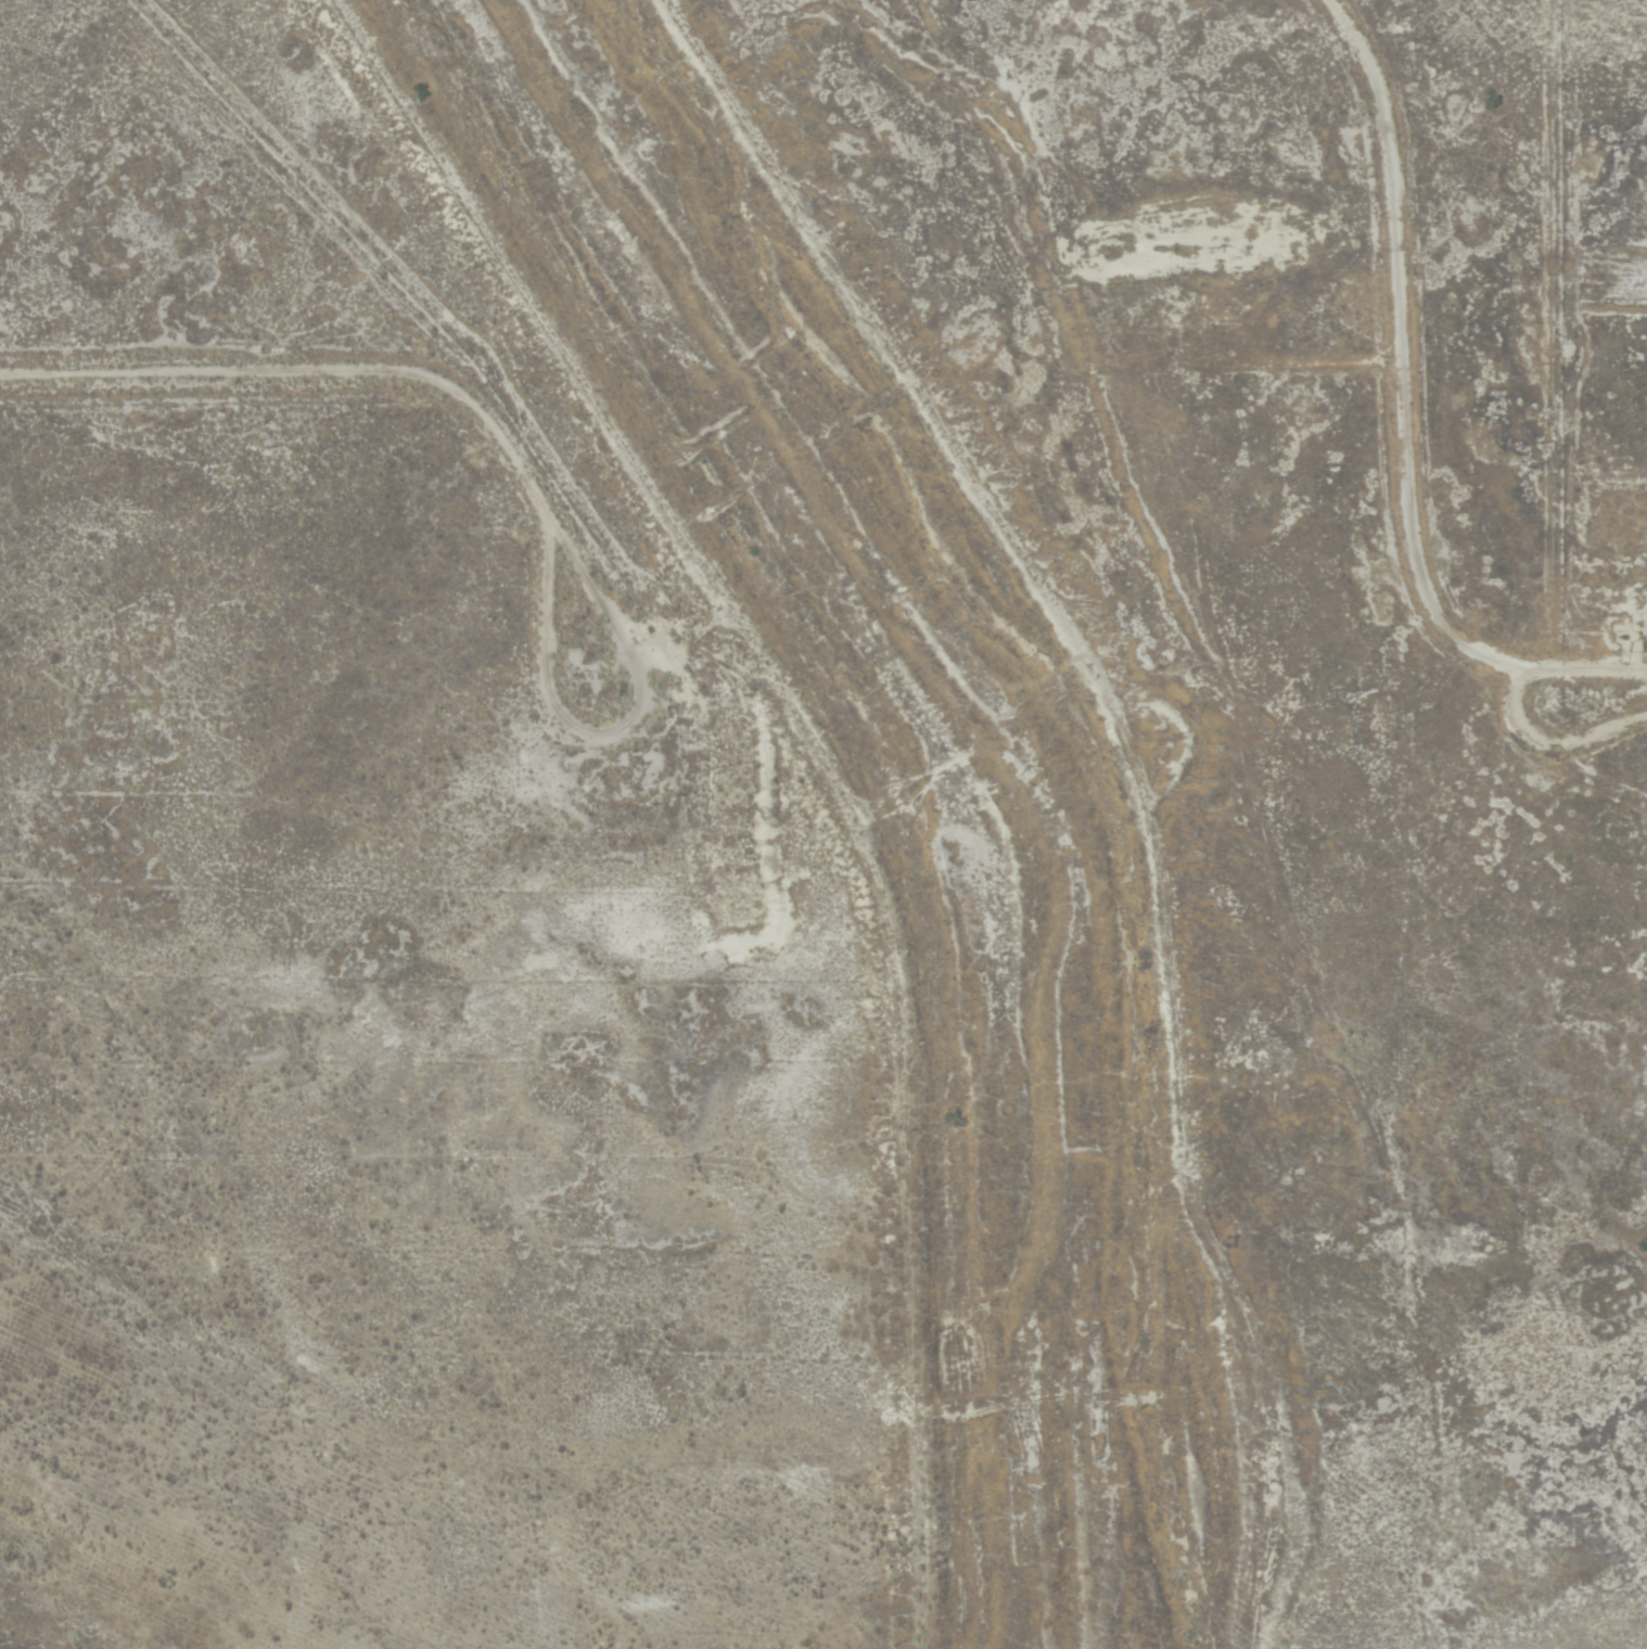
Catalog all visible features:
road: (381, 379)
road: (1509, 708)
road: (1145, 760)
road: (745, 762)
road: (631, 782)

